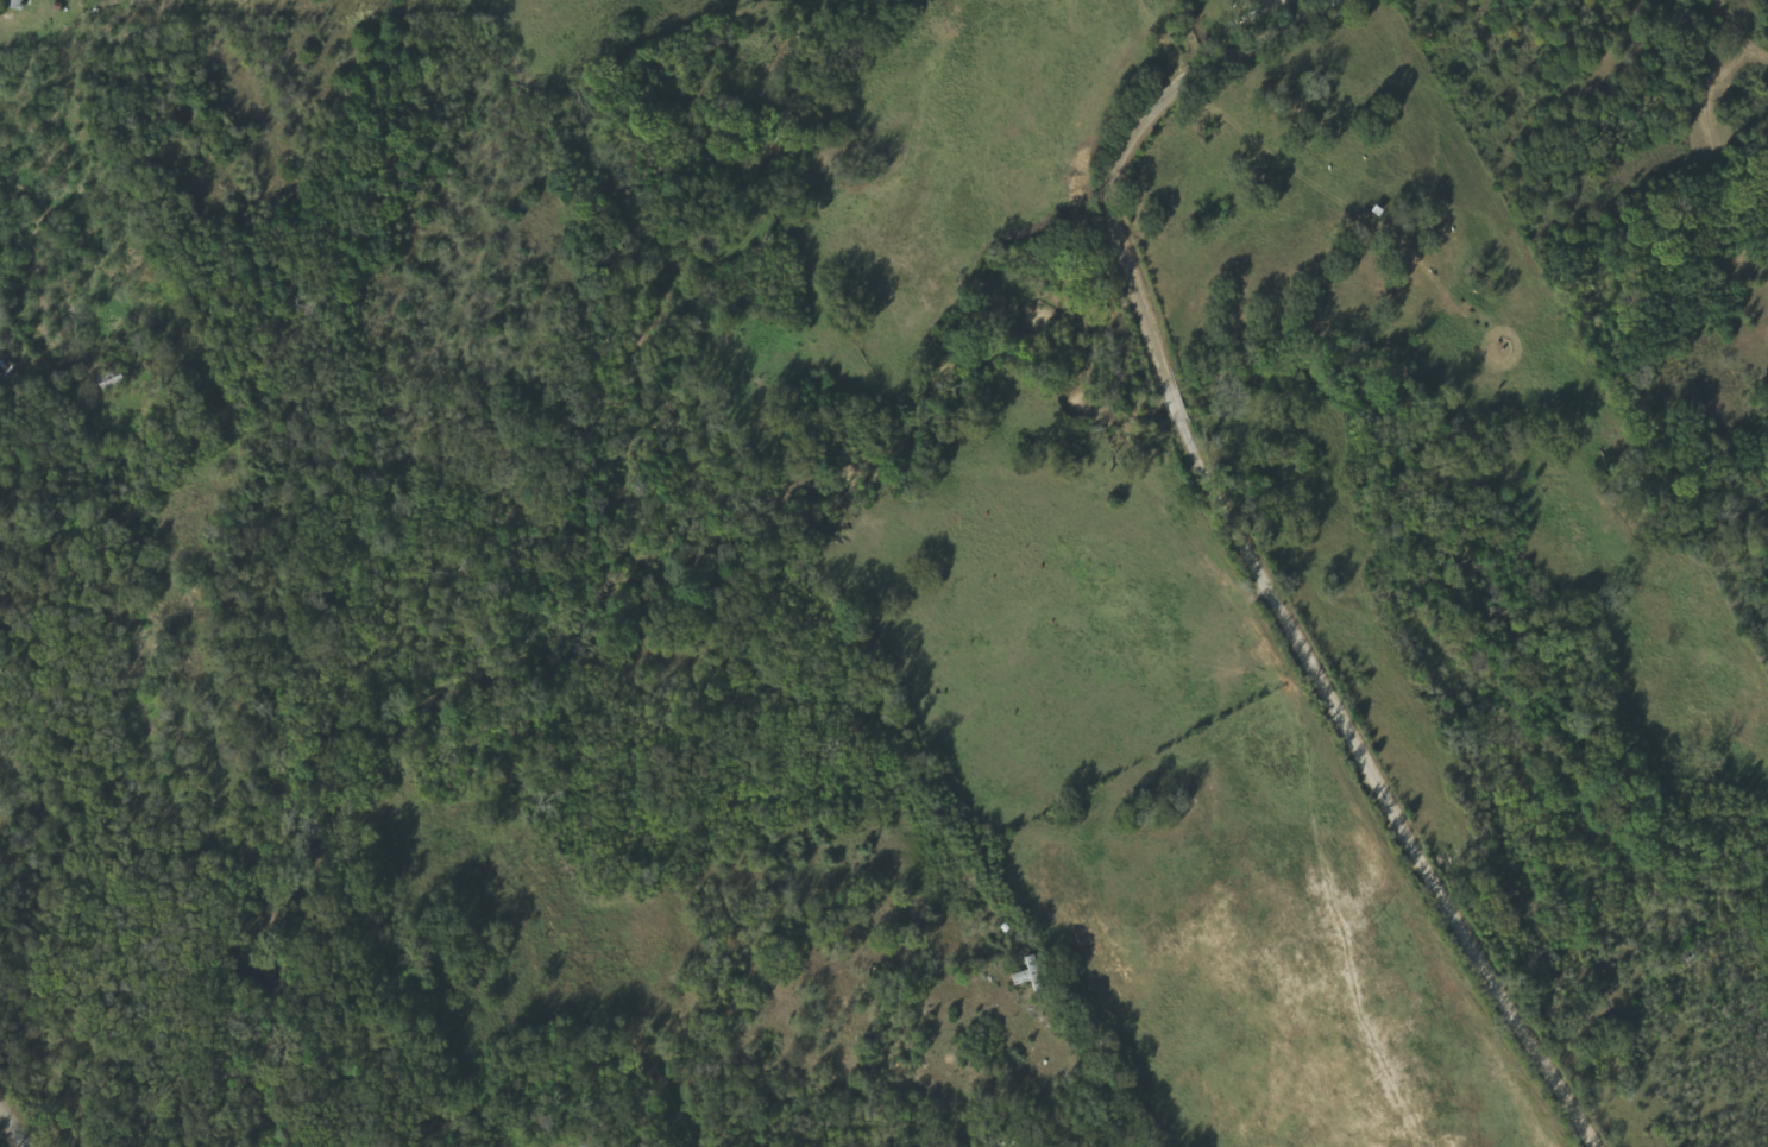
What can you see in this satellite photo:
building: (1245, 0)
road: (1351, 0)
building: (15, 4)
road: (1240, 540)
building: (1032, 976)
road: (12, 1126)
building: (589, 1140)

